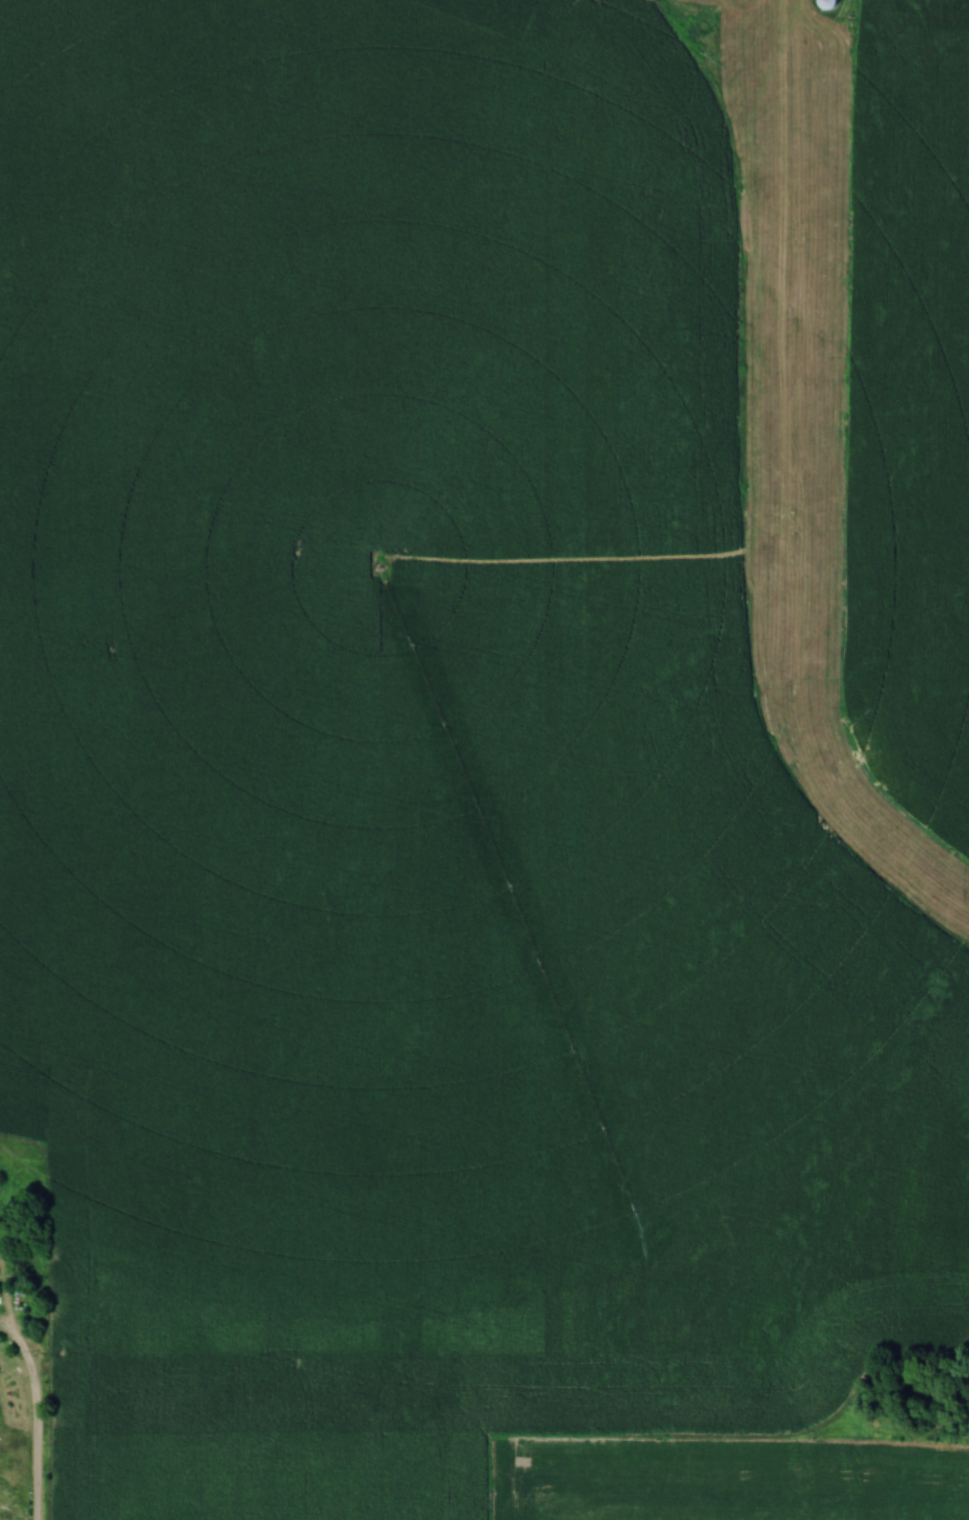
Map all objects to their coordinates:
building: (827, 4)
road: (36, 1417)

